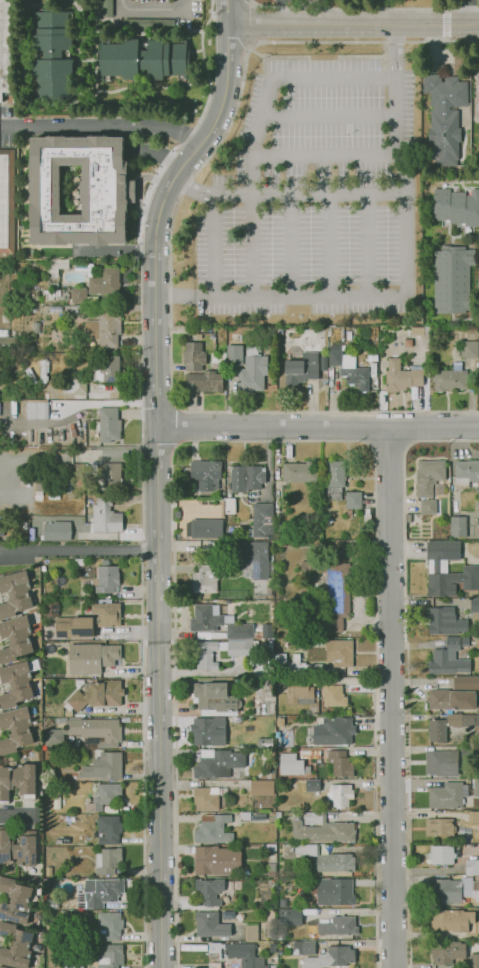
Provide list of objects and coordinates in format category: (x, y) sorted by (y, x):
road: (468, 2)
building: (106, 8)
road: (150, 10)
road: (363, 10)
road: (288, 12)
road: (227, 13)
road: (468, 15)
building: (148, 24)
road: (445, 25)
road: (353, 26)
building: (5, 51)
road: (392, 52)
building: (53, 55)
building: (143, 59)
road: (327, 117)
building: (445, 117)
road: (104, 126)
road: (377, 155)
road: (250, 175)
building: (78, 190)
parking lot: (312, 198)
building: (6, 200)
building: (456, 207)
road: (143, 215)
road: (365, 245)
road: (211, 246)
road: (251, 246)
road: (288, 246)
road: (328, 246)
road: (169, 253)
road: (404, 253)
building: (57, 266)
building: (11, 269)
building: (452, 280)
building: (89, 288)
building: (5, 318)
building: (64, 318)
building: (35, 328)
building: (104, 328)
building: (330, 329)
building: (432, 330)
building: (355, 331)
building: (341, 334)
building: (348, 335)
building: (198, 336)
building: (470, 337)
building: (7, 344)
building: (18, 345)
building: (27, 347)
building: (469, 349)
building: (234, 355)
building: (193, 357)
building: (218, 357)
building: (374, 358)
building: (348, 368)
building: (106, 370)
building: (301, 370)
building: (373, 370)
building: (330, 372)
building: (252, 374)
building: (401, 376)
building: (450, 378)
building: (203, 382)
building: (75, 386)
road: (157, 403)
building: (41, 411)
building: (107, 425)
road: (179, 427)
road: (317, 428)
road: (371, 428)
road: (408, 428)
road: (272, 440)
road: (159, 443)
road: (388, 448)
road: (149, 453)
road: (71, 455)
building: (78, 471)
building: (205, 473)
building: (300, 473)
building: (466, 473)
building: (111, 477)
building: (428, 477)
building: (246, 478)
building: (334, 480)
road: (157, 487)
building: (353, 500)
building: (229, 506)
building: (427, 507)
building: (349, 512)
building: (366, 515)
building: (105, 517)
building: (260, 520)
building: (328, 520)
building: (476, 523)
building: (458, 527)
building: (203, 528)
building: (56, 531)
building: (269, 537)
building: (281, 544)
road: (78, 551)
building: (256, 558)
building: (313, 559)
building: (42, 568)
building: (437, 569)
building: (107, 579)
building: (204, 579)
building: (15, 594)
building: (268, 594)
building: (336, 598)
building: (474, 603)
building: (207, 619)
building: (88, 622)
building: (445, 622)
building: (239, 631)
building: (266, 631)
building: (15, 639)
building: (269, 647)
building: (235, 648)
building: (339, 652)
building: (207, 654)
building: (91, 658)
building: (449, 658)
building: (296, 667)
road: (406, 670)
building: (17, 682)
building: (269, 684)
building: (299, 691)
building: (97, 695)
building: (455, 695)
building: (333, 696)
building: (215, 697)
road: (390, 698)
road: (144, 710)
building: (68, 713)
building: (79, 715)
building: (59, 720)
building: (279, 722)
building: (449, 726)
building: (15, 730)
building: (208, 731)
building: (333, 731)
building: (95, 732)
building: (310, 754)
building: (217, 763)
building: (340, 763)
building: (441, 763)
building: (292, 765)
building: (103, 767)
building: (470, 771)
building: (272, 774)
building: (17, 781)
building: (307, 785)
building: (261, 787)
building: (476, 789)
building: (339, 795)
building: (446, 796)
building: (104, 797)
building: (207, 798)
building: (277, 815)
building: (424, 815)
building: (473, 817)
building: (62, 819)
building: (439, 827)
building: (109, 829)
building: (320, 829)
building: (213, 830)
building: (17, 848)
building: (268, 848)
building: (441, 855)
building: (327, 859)
building: (215, 860)
building: (107, 861)
building: (472, 867)
building: (271, 868)
building: (32, 879)
building: (209, 891)
building: (445, 891)
building: (335, 892)
building: (478, 892)
building: (98, 893)
building: (282, 899)
building: (14, 901)
building: (290, 917)
building: (441, 920)
building: (210, 925)
building: (109, 926)
building: (338, 926)
building: (472, 931)
building: (251, 933)
building: (15, 946)
building: (308, 948)
building: (447, 952)
building: (237, 955)
building: (108, 957)
building: (330, 958)
building: (474, 960)
building: (72, 965)
building: (2, 967)

